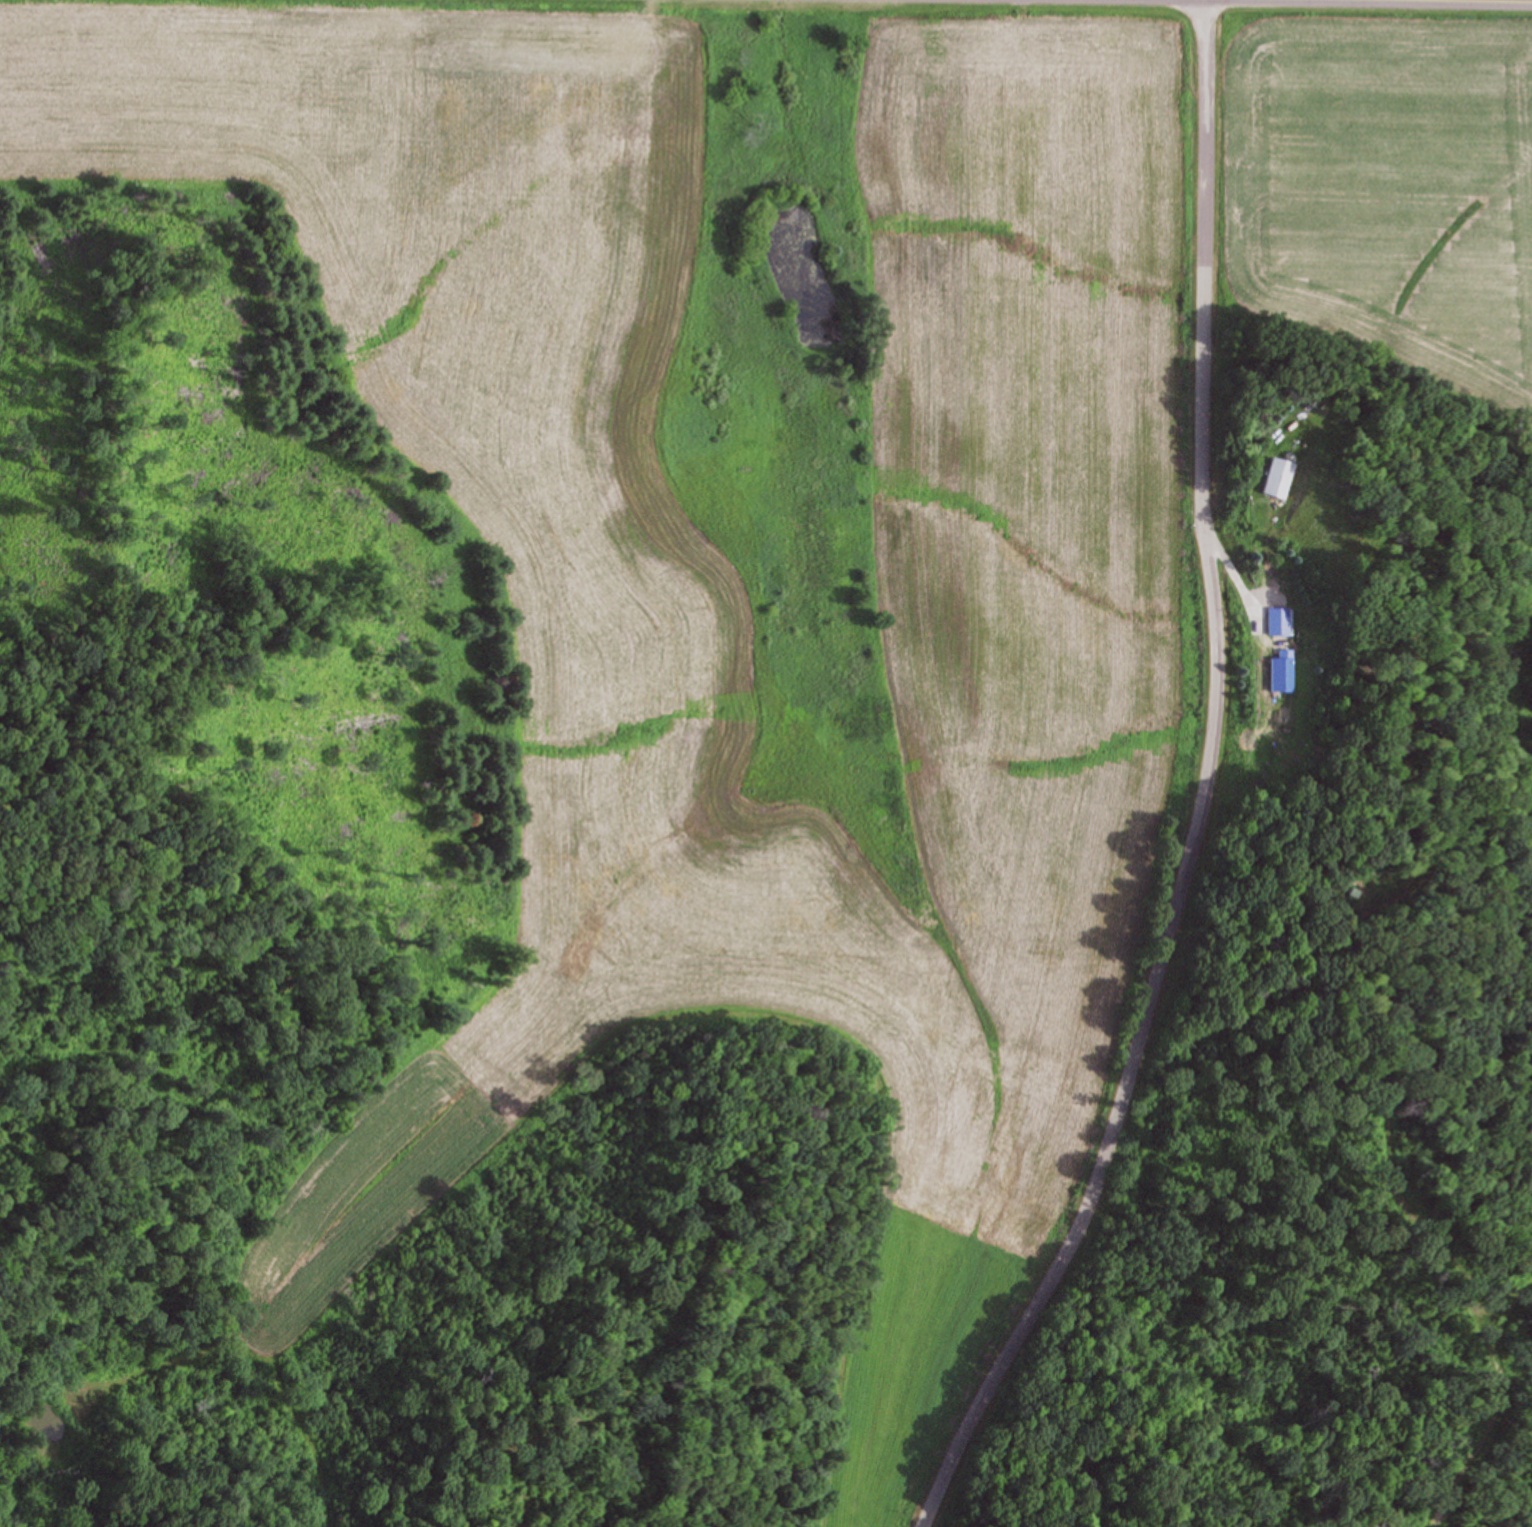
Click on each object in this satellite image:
crop: (1378, 182)
building: (1272, 478)
building: (1278, 674)
road: (1202, 790)
crop: (687, 795)

